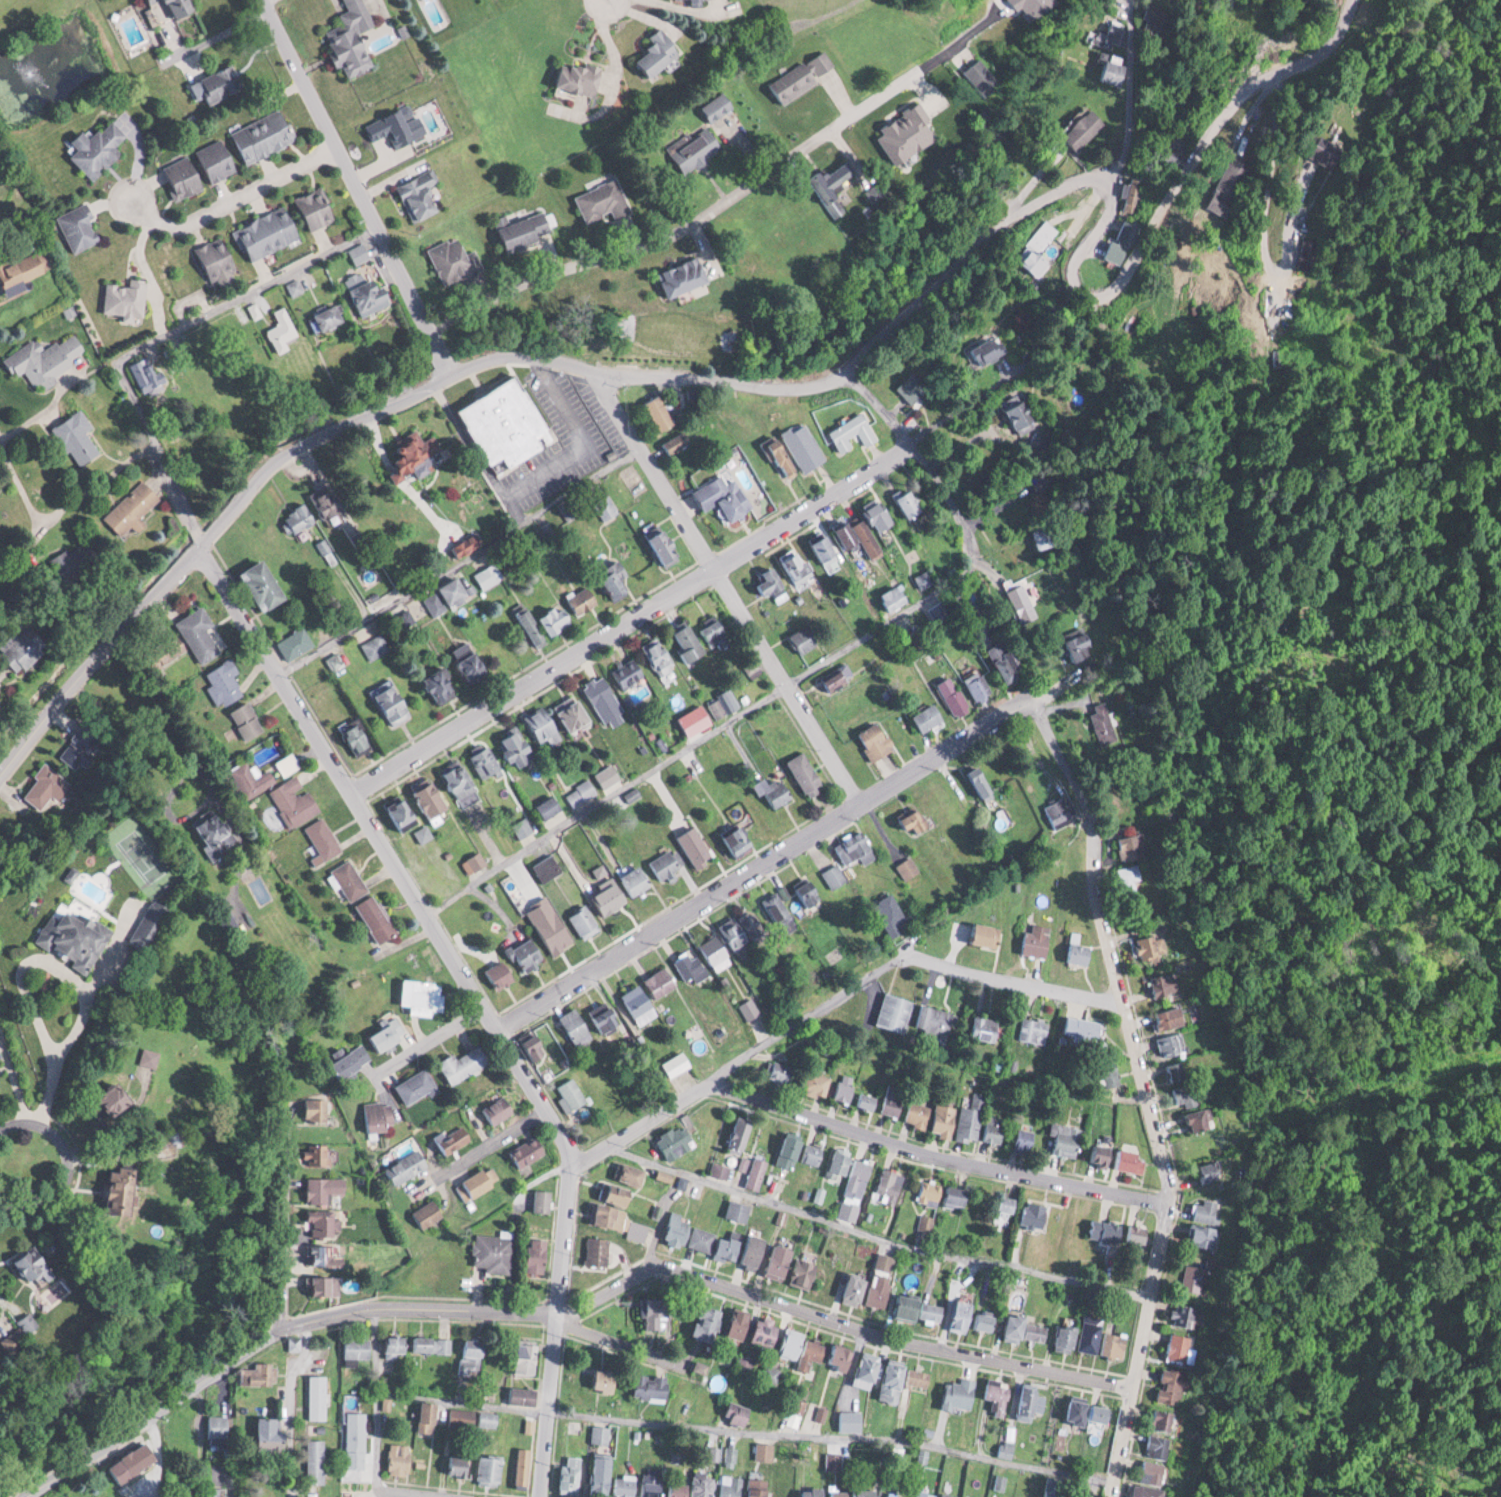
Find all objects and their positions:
building: (153, 0)
building: (693, 0)
building: (183, 7)
building: (1155, 16)
building: (1105, 35)
building: (354, 37)
building: (1275, 48)
building: (663, 50)
road: (1284, 62)
building: (1112, 71)
building: (806, 75)
building: (581, 76)
building: (981, 77)
building: (217, 84)
road: (1130, 89)
building: (720, 106)
building: (396, 126)
building: (1083, 128)
building: (266, 134)
building: (98, 148)
building: (698, 149)
building: (1325, 150)
building: (218, 158)
road: (344, 163)
park: (16, 164)
building: (839, 175)
building: (184, 176)
building: (1227, 185)
building: (422, 194)
road: (233, 196)
building: (604, 201)
building: (317, 207)
road: (685, 225)
building: (80, 226)
building: (528, 230)
building: (269, 231)
building: (1188, 239)
building: (1120, 240)
building: (1039, 247)
building: (1304, 256)
building: (455, 258)
building: (218, 259)
building: (27, 268)
building: (684, 275)
road: (243, 294)
building: (376, 295)
building: (127, 297)
building: (332, 317)
building: (284, 324)
building: (991, 348)
road: (441, 349)
building: (613, 354)
building: (652, 356)
building: (47, 359)
building: (149, 374)
road: (688, 374)
building: (911, 389)
building: (678, 399)
building: (660, 413)
building: (1020, 415)
building: (509, 424)
building: (853, 432)
building: (79, 437)
building: (677, 441)
building: (804, 446)
building: (419, 454)
building: (783, 456)
road: (922, 461)
building: (725, 496)
building: (908, 502)
building: (329, 503)
road: (62, 508)
building: (134, 508)
building: (606, 508)
building: (880, 517)
building: (299, 519)
building: (1043, 536)
building: (859, 537)
road: (27, 544)
building: (666, 544)
building: (825, 549)
building: (81, 560)
road: (459, 562)
building: (797, 566)
building: (490, 574)
building: (617, 577)
building: (924, 579)
building: (770, 582)
building: (265, 584)
road: (723, 584)
building: (457, 591)
building: (894, 598)
building: (585, 600)
building: (1020, 601)
road: (629, 615)
building: (558, 618)
building: (531, 625)
building: (716, 630)
building: (200, 633)
building: (805, 637)
building: (918, 638)
building: (296, 643)
building: (689, 643)
building: (375, 646)
building: (1081, 646)
building: (24, 648)
building: (659, 655)
building: (1007, 660)
building: (475, 661)
building: (628, 672)
building: (836, 678)
building: (225, 682)
building: (443, 684)
building: (978, 685)
building: (954, 696)
building: (604, 698)
building: (393, 701)
building: (718, 707)
building: (576, 715)
building: (929, 717)
building: (249, 720)
building: (1102, 724)
building: (546, 729)
building: (359, 738)
road: (697, 739)
building: (877, 740)
building: (80, 745)
building: (519, 745)
building: (486, 759)
building: (289, 764)
building: (808, 773)
building: (254, 778)
building: (464, 779)
building: (982, 782)
building: (775, 790)
building: (48, 791)
building: (582, 791)
building: (436, 799)
building: (296, 800)
building: (549, 804)
building: (407, 811)
building: (1058, 811)
building: (917, 819)
building: (523, 826)
building: (217, 829)
building: (742, 837)
building: (325, 838)
building: (698, 846)
building: (856, 848)
park: (143, 855)
building: (475, 862)
road: (761, 862)
building: (667, 863)
building: (548, 867)
building: (906, 867)
building: (834, 875)
building: (352, 879)
building: (638, 879)
building: (807, 891)
building: (611, 897)
building: (776, 906)
road: (423, 911)
building: (890, 914)
building: (380, 918)
building: (585, 921)
building: (742, 927)
building: (985, 933)
building: (78, 937)
building: (1037, 939)
building: (1150, 947)
building: (1078, 948)
building: (715, 951)
building: (527, 955)
building: (690, 965)
building: (501, 974)
building: (661, 982)
building: (1165, 983)
building: (424, 995)
road: (833, 998)
building: (638, 1000)
building: (750, 1008)
road: (81, 1010)
building: (895, 1012)
building: (607, 1017)
building: (1171, 1018)
building: (936, 1019)
building: (578, 1026)
building: (1086, 1027)
building: (987, 1028)
building: (1034, 1030)
building: (389, 1035)
road: (426, 1040)
building: (1172, 1044)
building: (538, 1046)
building: (152, 1057)
building: (353, 1061)
building: (1, 1062)
building: (679, 1063)
building: (464, 1064)
building: (1176, 1071)
building: (780, 1072)
building: (1111, 1076)
building: (818, 1083)
building: (417, 1085)
building: (846, 1088)
road: (1141, 1091)
building: (574, 1094)
building: (1187, 1094)
building: (120, 1098)
building: (868, 1100)
building: (893, 1101)
building: (317, 1109)
building: (499, 1109)
building: (381, 1114)
building: (919, 1114)
building: (971, 1118)
building: (1199, 1119)
building: (945, 1120)
building: (995, 1128)
building: (740, 1134)
building: (1066, 1139)
building: (452, 1140)
building: (1025, 1140)
building: (676, 1141)
road: (495, 1143)
building: (529, 1151)
building: (790, 1151)
building: (318, 1154)
building: (813, 1154)
road: (931, 1154)
building: (1105, 1155)
building: (1133, 1160)
building: (841, 1162)
road: (73, 1165)
building: (408, 1165)
building: (631, 1173)
building: (756, 1173)
building: (859, 1178)
building: (479, 1183)
building: (888, 1186)
building: (325, 1188)
building: (127, 1191)
building: (617, 1193)
building: (929, 1193)
building: (957, 1196)
building: (544, 1200)
building: (1002, 1203)
building: (1206, 1209)
building: (429, 1213)
road: (283, 1215)
building: (610, 1215)
building: (1035, 1215)
building: (322, 1223)
building: (638, 1230)
building: (1107, 1230)
building: (689, 1234)
road: (871, 1235)
building: (1203, 1235)
building: (730, 1246)
building: (600, 1251)
building: (755, 1252)
building: (495, 1253)
building: (330, 1255)
building: (539, 1255)
building: (780, 1261)
building: (37, 1267)
building: (805, 1273)
building: (1193, 1277)
building: (881, 1280)
building: (324, 1285)
building: (853, 1287)
building: (919, 1308)
building: (655, 1311)
building: (1182, 1314)
building: (962, 1315)
building: (985, 1321)
building: (708, 1322)
road: (835, 1322)
building: (31, 1324)
building: (738, 1325)
building: (1024, 1328)
building: (766, 1331)
road: (262, 1333)
building: (1090, 1335)
building: (1067, 1337)
building: (17, 1340)
road: (621, 1340)
building: (431, 1343)
building: (1114, 1343)
building: (397, 1344)
building: (792, 1344)
building: (1177, 1346)
building: (357, 1347)
building: (813, 1352)
building: (471, 1356)
building: (528, 1357)
building: (841, 1357)
building: (869, 1368)
building: (257, 1373)
building: (919, 1377)
building: (608, 1380)
building: (893, 1381)
building: (650, 1386)
building: (1173, 1386)
building: (959, 1394)
building: (998, 1394)
building: (516, 1395)
building: (318, 1396)
road: (379, 1396)
building: (1030, 1400)
road: (289, 1405)
building: (1089, 1411)
building: (736, 1412)
building: (430, 1416)
building: (461, 1416)
building: (490, 1418)
building: (1163, 1419)
building: (849, 1420)
building: (218, 1431)
road: (746, 1431)
building: (600, 1433)
building: (272, 1434)
building: (357, 1440)
building: (1159, 1446)
building: (764, 1451)
building: (400, 1459)
building: (833, 1460)
building: (315, 1461)
building: (133, 1463)
building: (460, 1465)
building: (524, 1466)
building: (491, 1470)
building: (1153, 1471)
building: (571, 1474)
building: (603, 1476)
building: (653, 1482)
building: (704, 1484)
building: (731, 1485)
building: (627, 1486)
road: (1494, 1486)
building: (759, 1487)
building: (680, 1489)
building: (810, 1491)
building: (862, 1491)
building: (1148, 1491)
road: (409, 1493)
building: (837, 1493)
building: (924, 1493)
building: (890, 1495)
building: (945, 1496)

